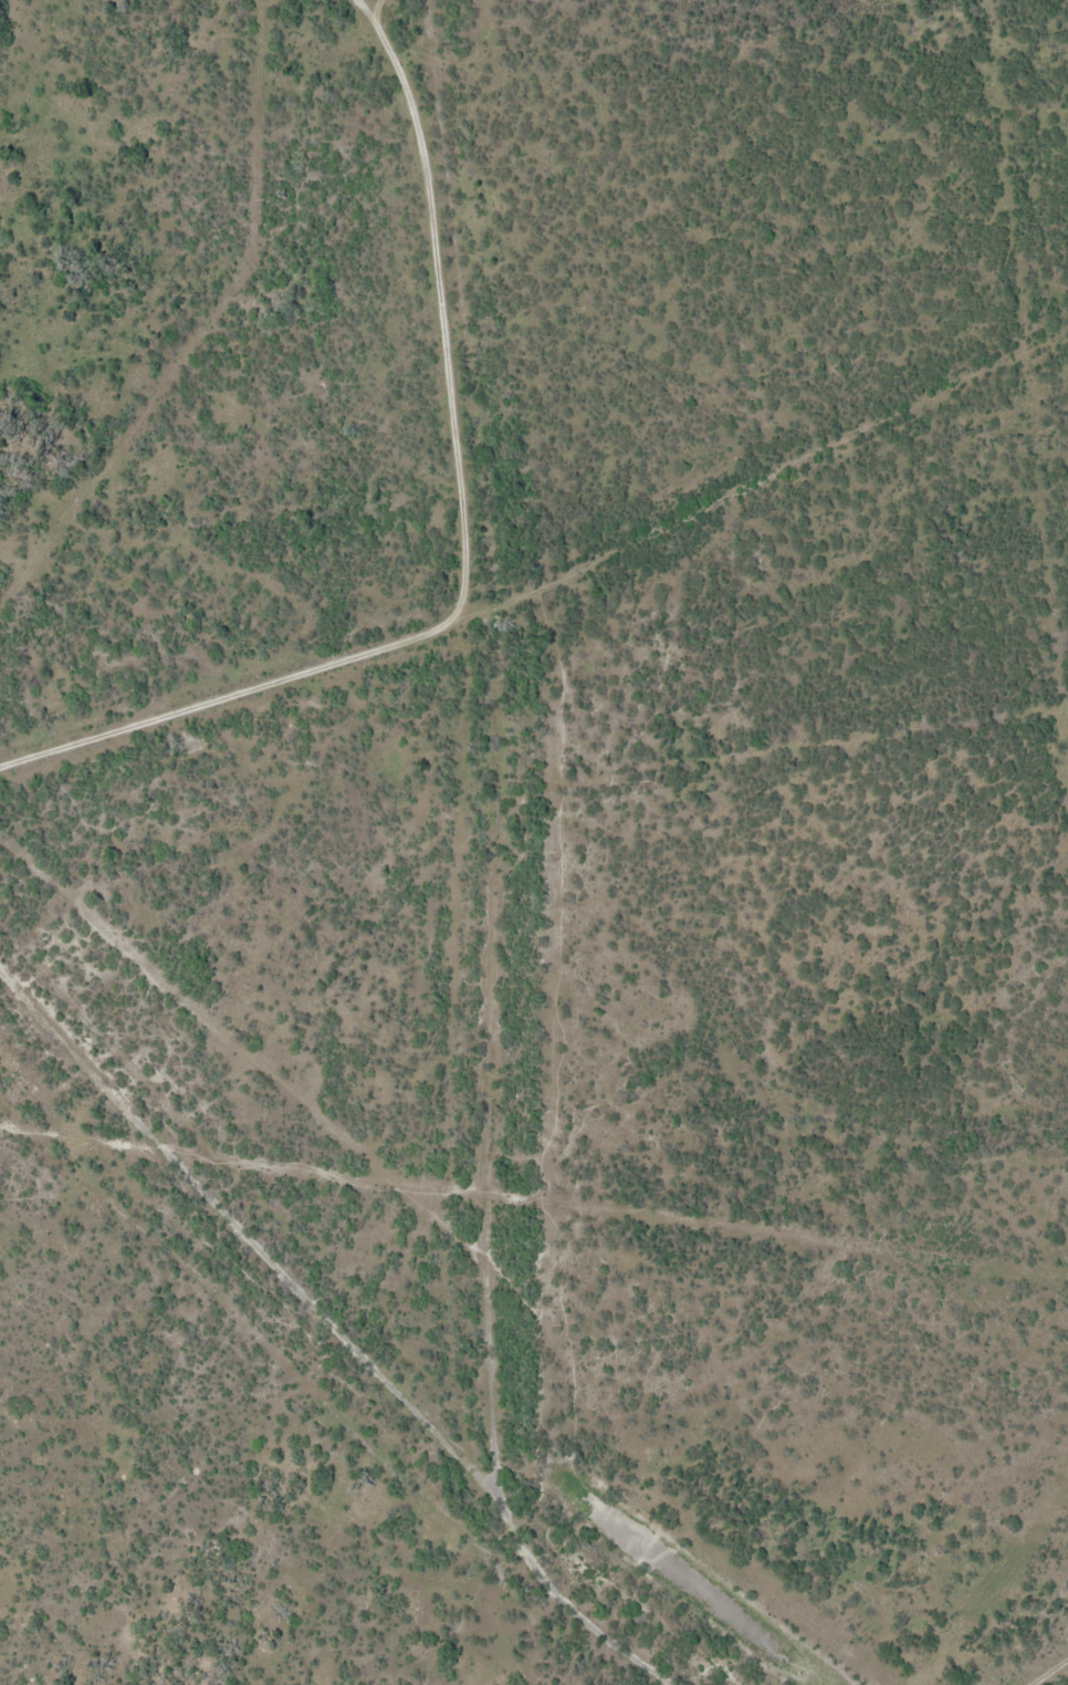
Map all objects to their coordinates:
road: (551, 578)

